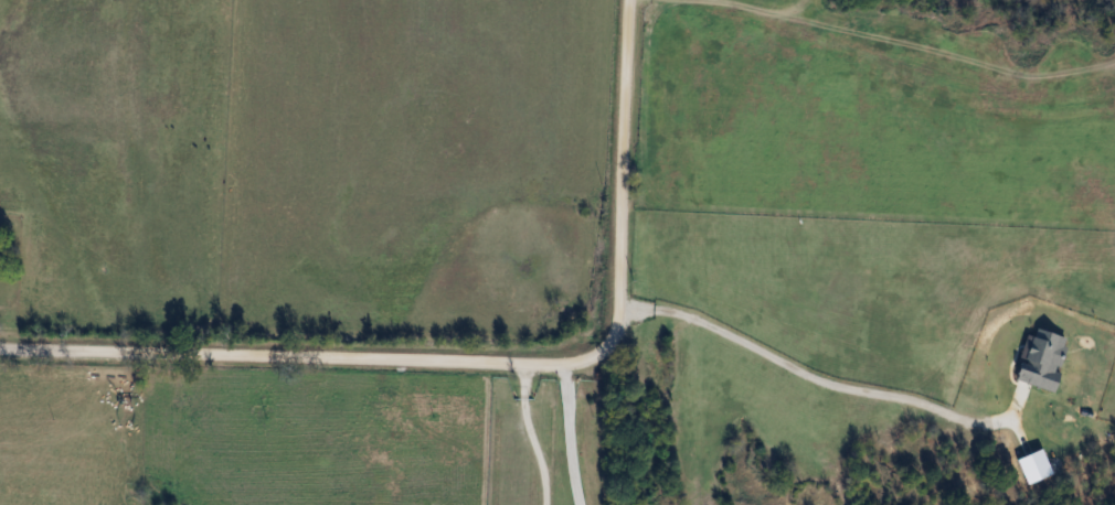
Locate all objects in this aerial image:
building: (0, 258)
road: (776, 355)
road: (480, 363)
road: (570, 434)
road: (534, 436)

